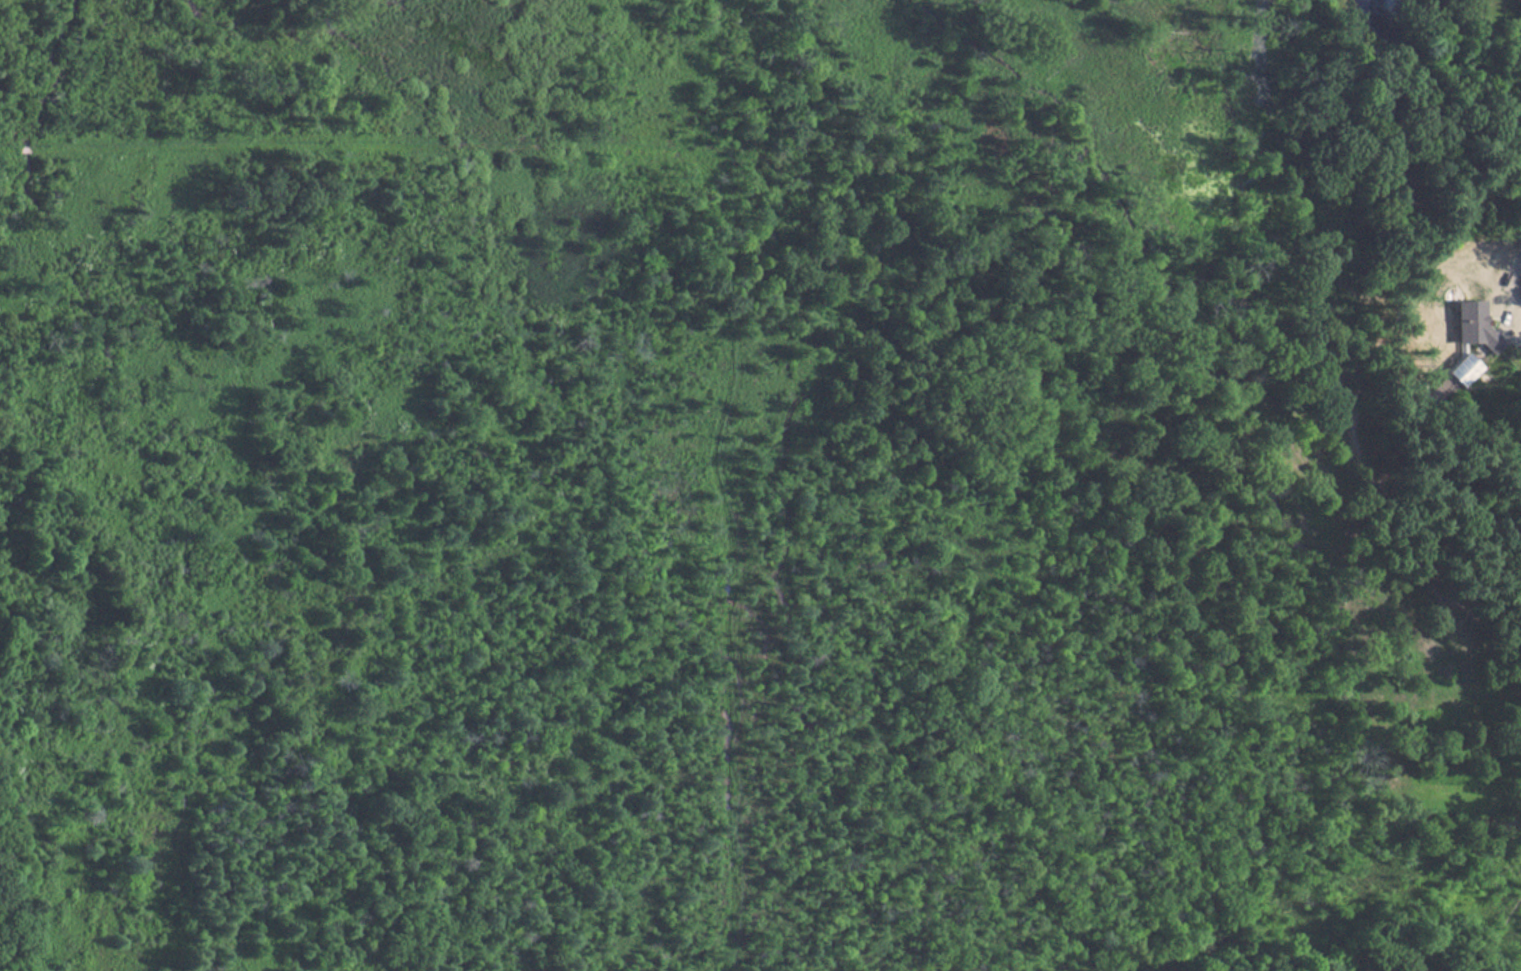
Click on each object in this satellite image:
road: (1516, 266)
road: (1516, 295)
road: (1504, 318)
building: (1474, 325)
building: (1453, 379)

